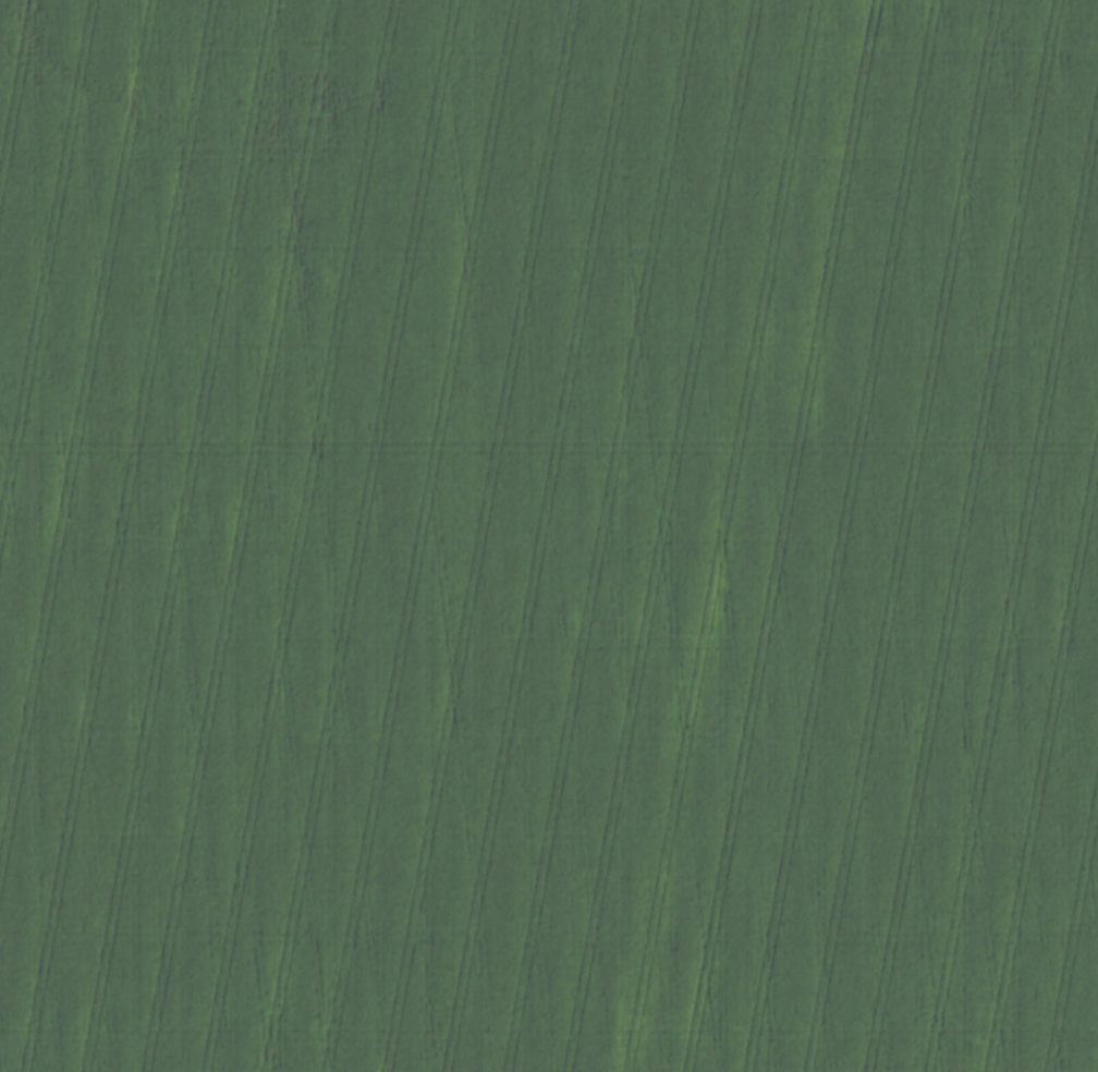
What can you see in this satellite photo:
crop: (549, 536)

